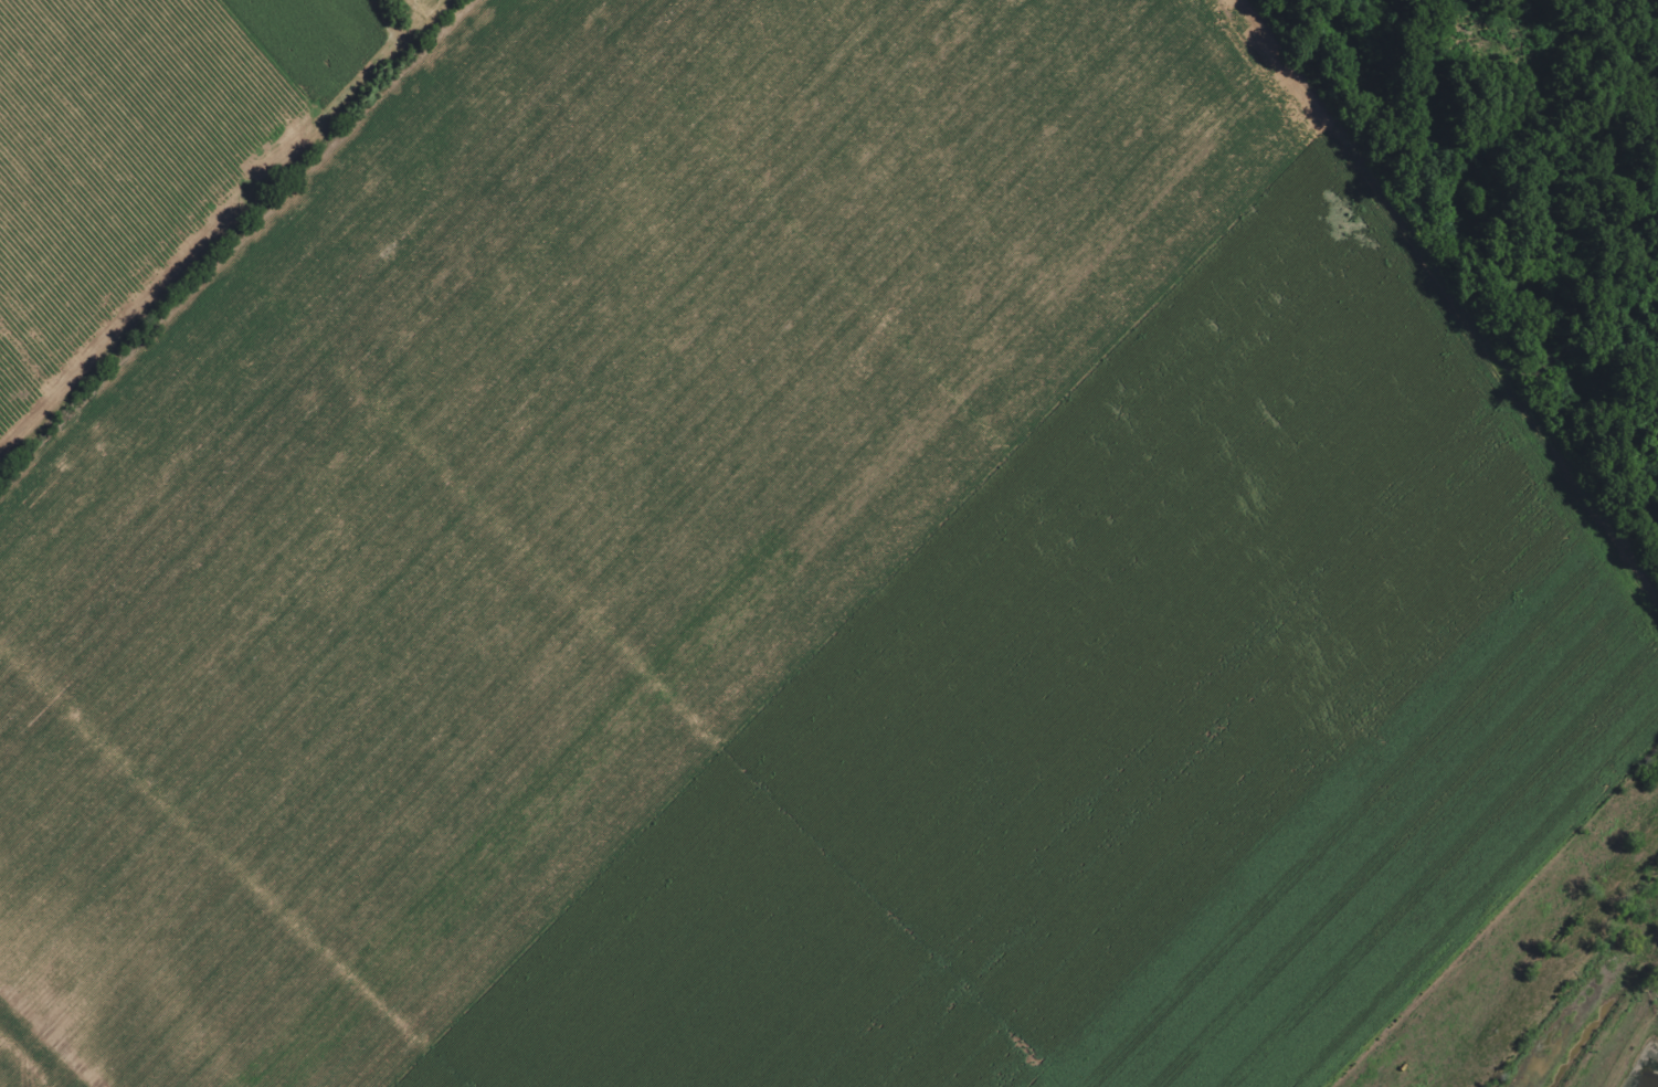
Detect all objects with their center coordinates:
road: (1443, 313)

